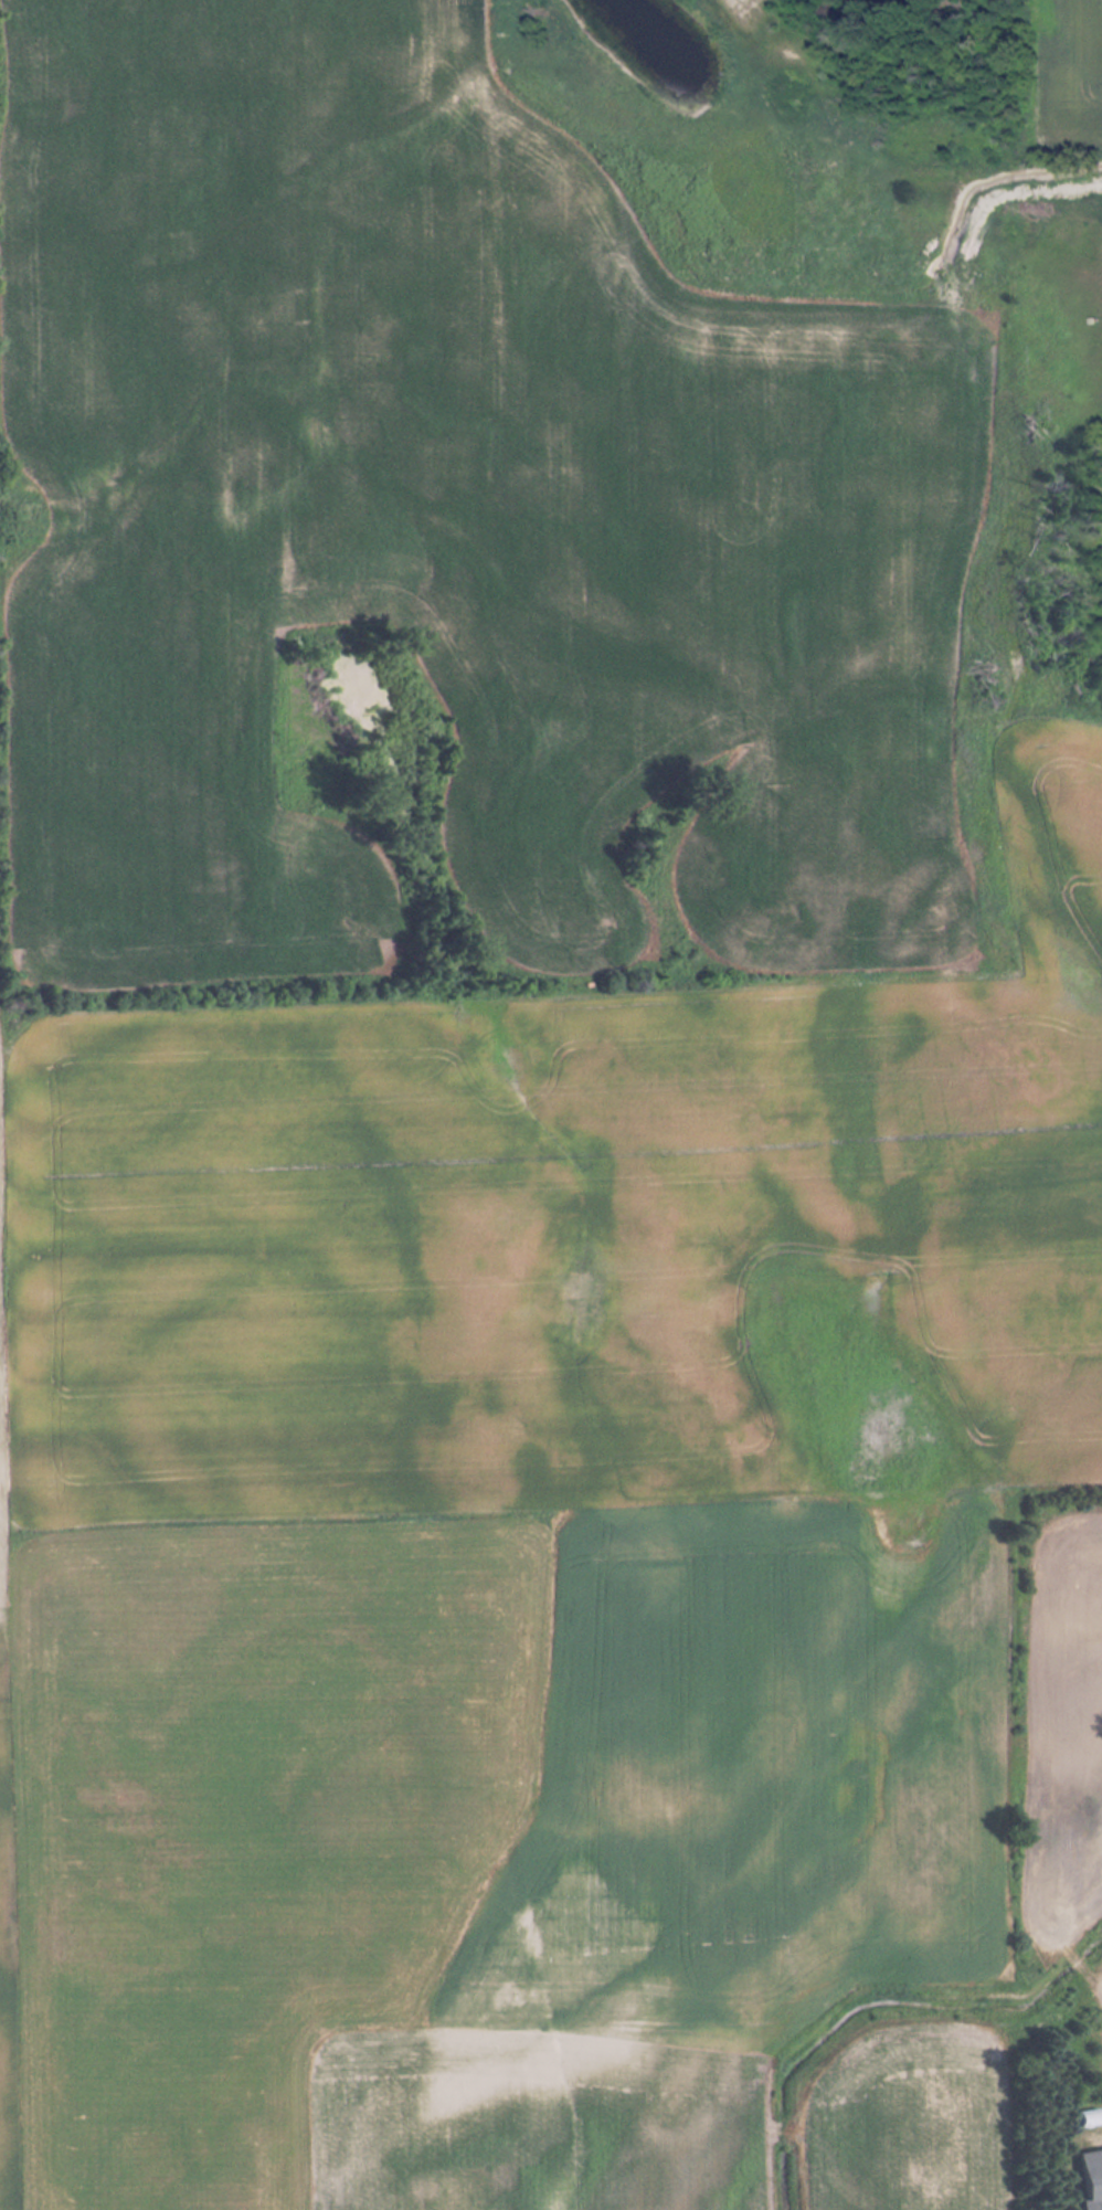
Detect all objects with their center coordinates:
building: (1091, 2179)

